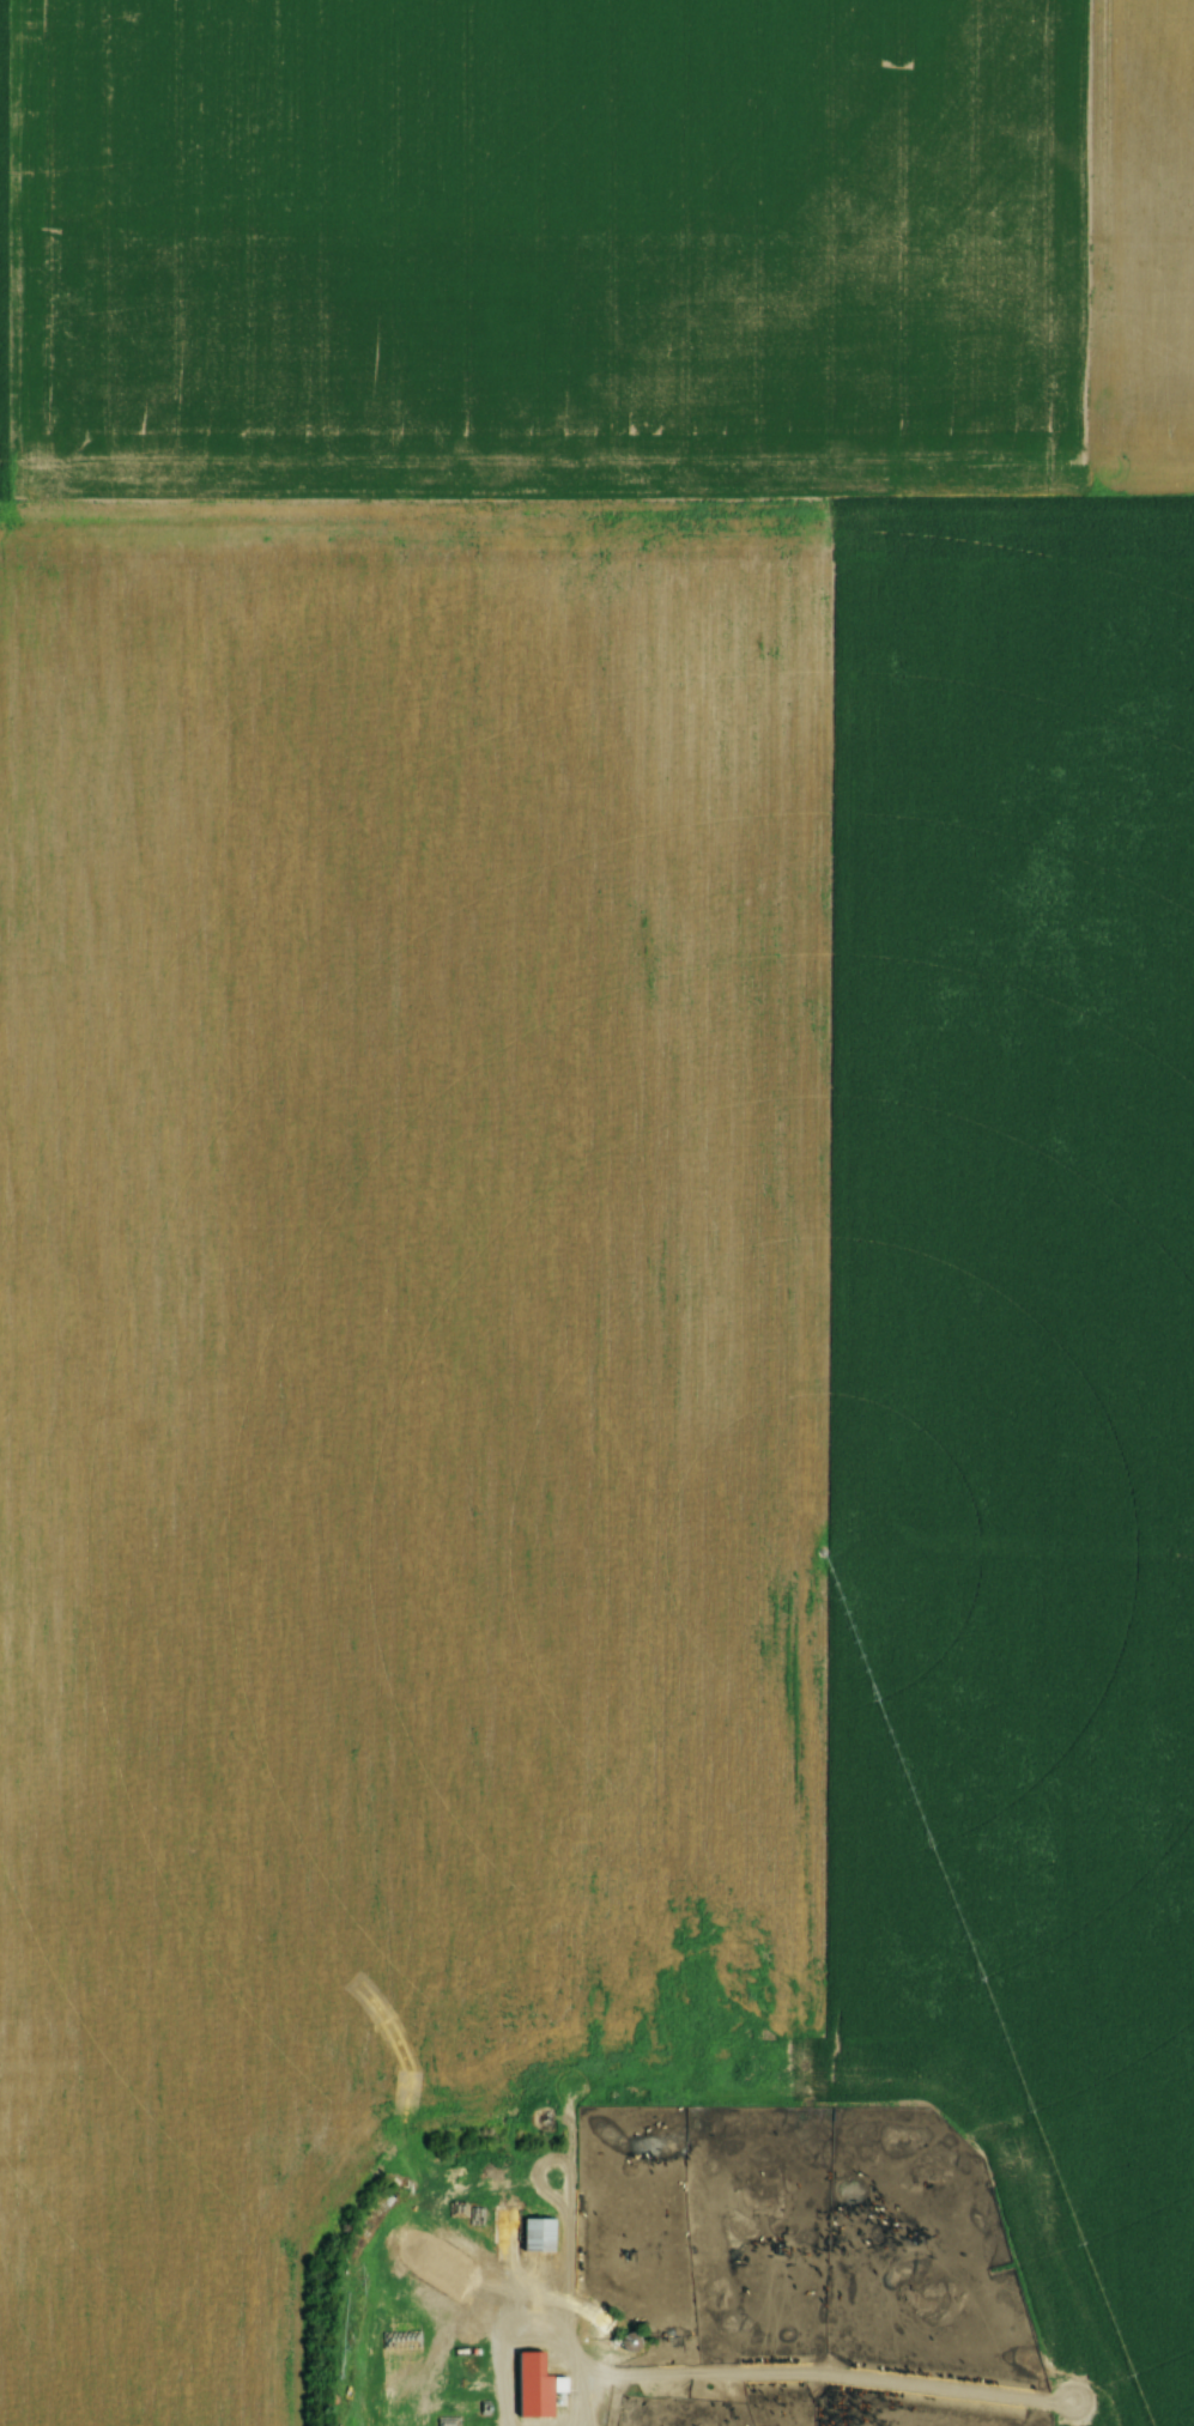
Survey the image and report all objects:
building: (540, 2236)
building: (604, 2319)
building: (468, 2335)
building: (631, 2343)
building: (469, 2357)
building: (472, 2388)
building: (562, 2396)
building: (477, 2409)

